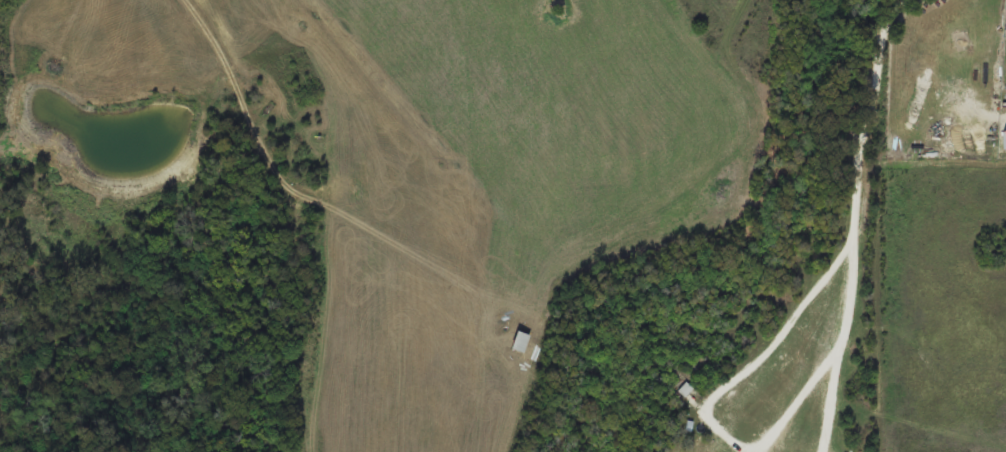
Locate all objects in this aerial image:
building: (1003, 142)
road: (858, 220)

